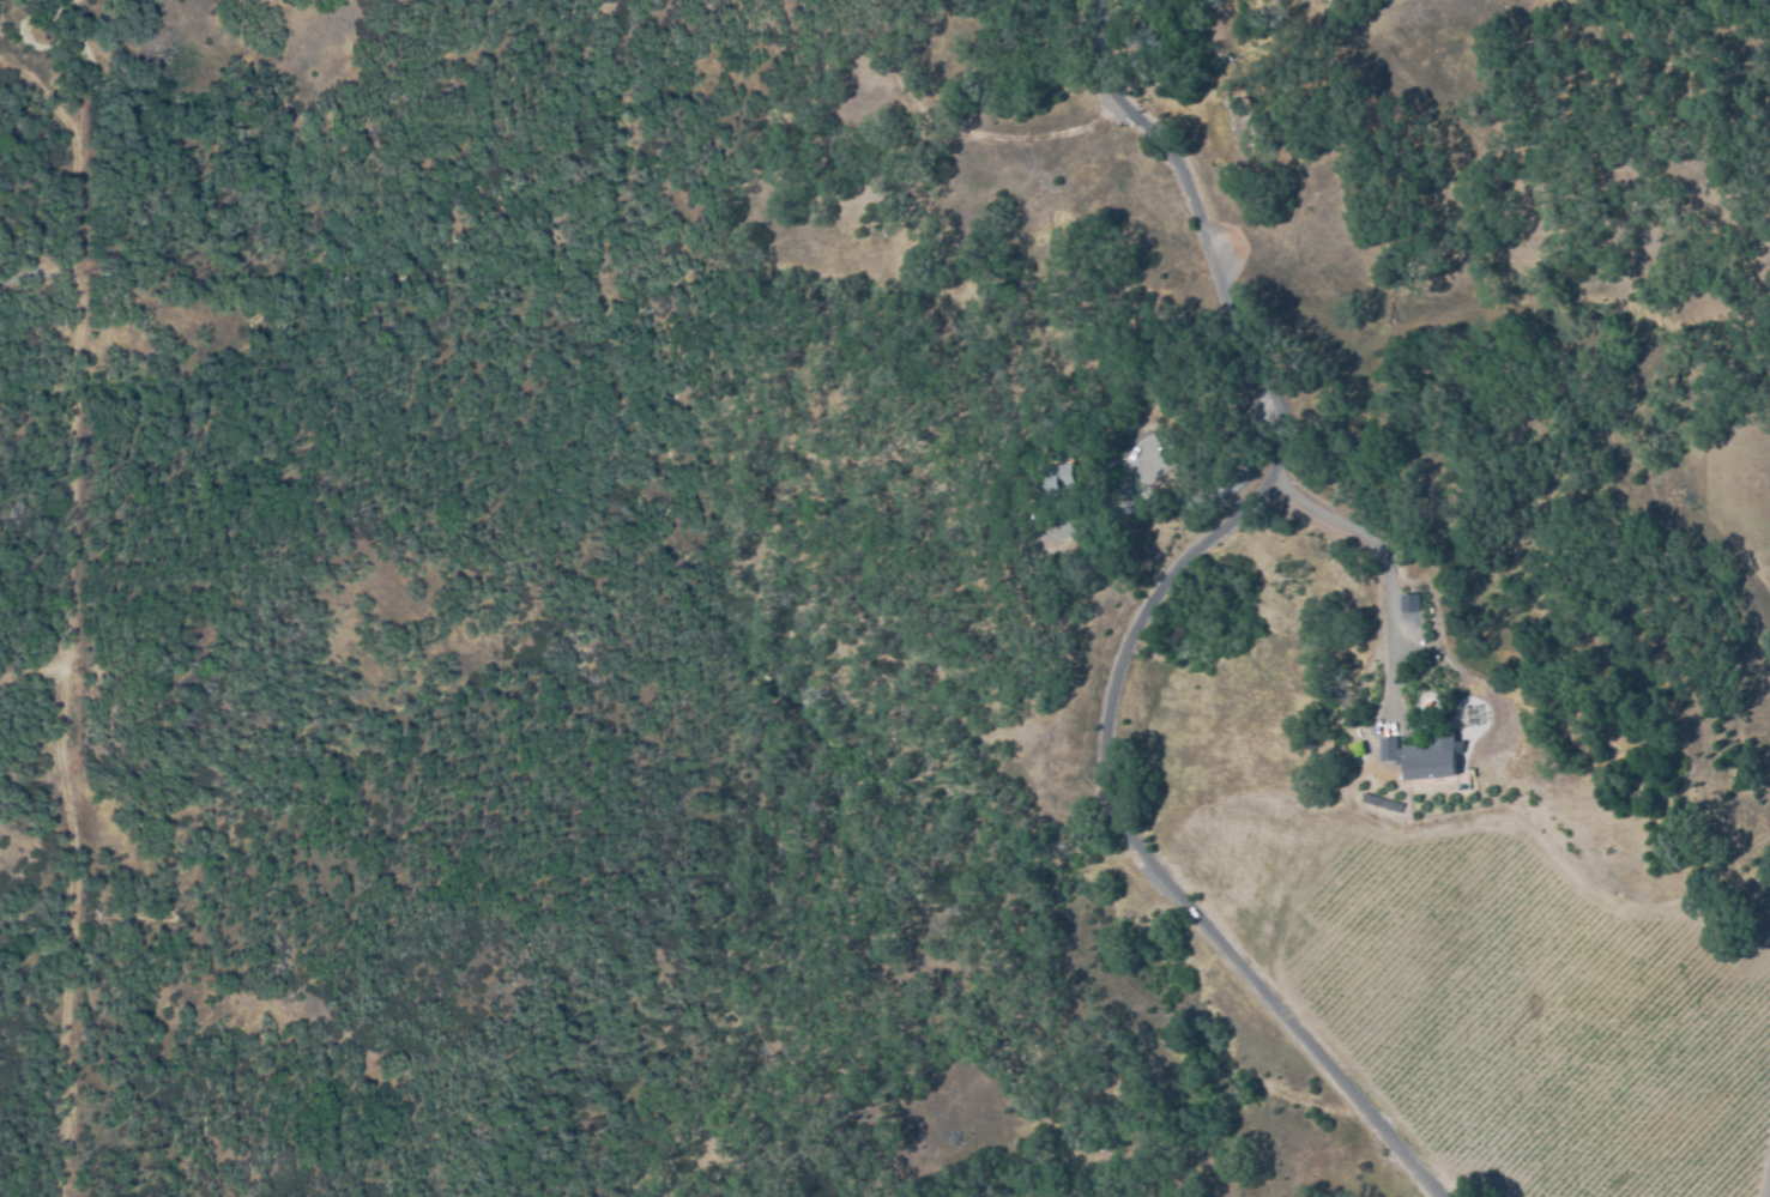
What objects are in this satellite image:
road: (1244, 322)
building: (1075, 474)
building: (1395, 598)
building: (1432, 657)
building: (1469, 715)
building: (1358, 749)
building: (1421, 757)
road: (1142, 856)

